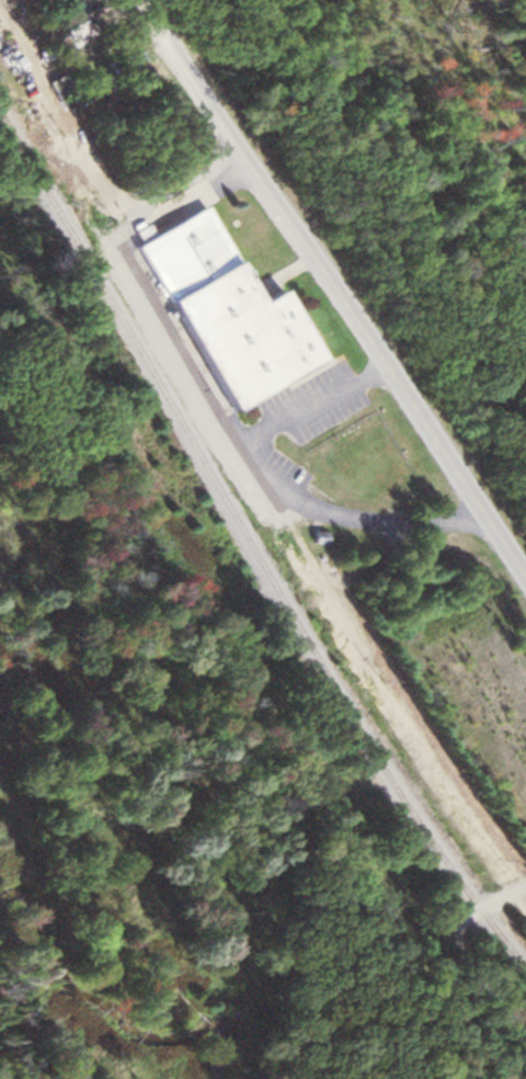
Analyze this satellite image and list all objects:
building: (50, 2)
building: (62, 18)
road: (345, 273)
building: (217, 311)
railway: (250, 556)
road: (461, 949)

